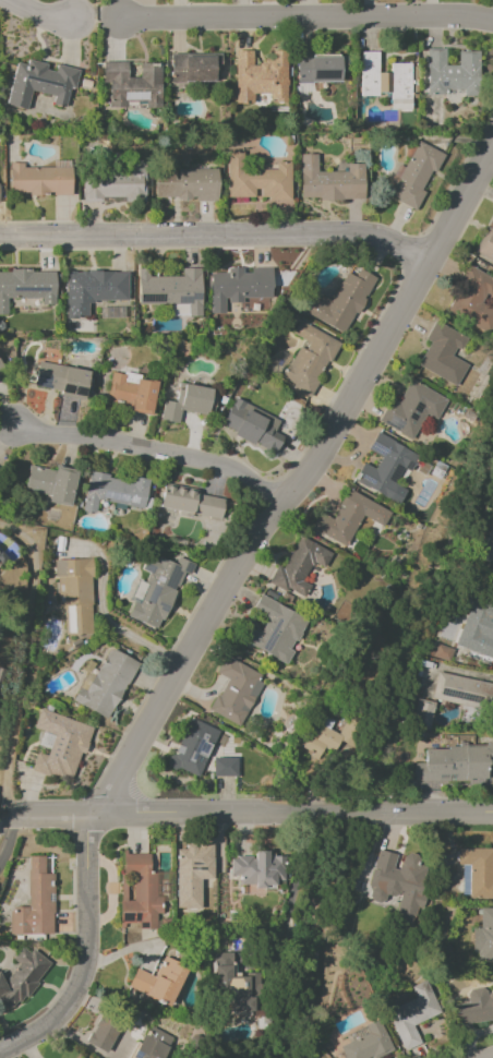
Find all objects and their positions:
road: (38, 12)
road: (93, 15)
road: (304, 17)
building: (194, 68)
building: (320, 68)
building: (452, 73)
building: (258, 76)
building: (385, 81)
building: (39, 83)
building: (132, 85)
building: (412, 175)
building: (256, 179)
building: (38, 180)
building: (329, 181)
building: (113, 183)
building: (184, 183)
road: (216, 236)
building: (486, 244)
building: (26, 287)
building: (238, 287)
building: (171, 289)
building: (92, 290)
building: (472, 299)
building: (341, 301)
building: (442, 353)
building: (309, 359)
building: (60, 378)
building: (131, 393)
building: (187, 402)
building: (411, 409)
building: (251, 425)
road: (154, 449)
building: (384, 466)
building: (51, 483)
building: (112, 491)
building: (189, 501)
building: (348, 518)
building: (488, 548)
building: (299, 567)
building: (491, 586)
building: (155, 590)
building: (74, 594)
road: (217, 597)
building: (274, 629)
building: (476, 630)
road: (22, 664)
building: (104, 684)
building: (235, 690)
building: (462, 690)
building: (422, 713)
building: (321, 740)
building: (59, 745)
building: (192, 748)
building: (456, 764)
building: (224, 767)
road: (293, 813)
road: (46, 816)
road: (8, 837)
building: (257, 869)
building: (476, 871)
building: (191, 874)
building: (399, 882)
building: (137, 892)
building: (34, 902)
building: (483, 936)
road: (148, 943)
building: (21, 977)
building: (158, 982)
building: (233, 984)
building: (474, 1007)
building: (410, 1012)
building: (100, 1035)
building: (365, 1042)
building: (154, 1045)

